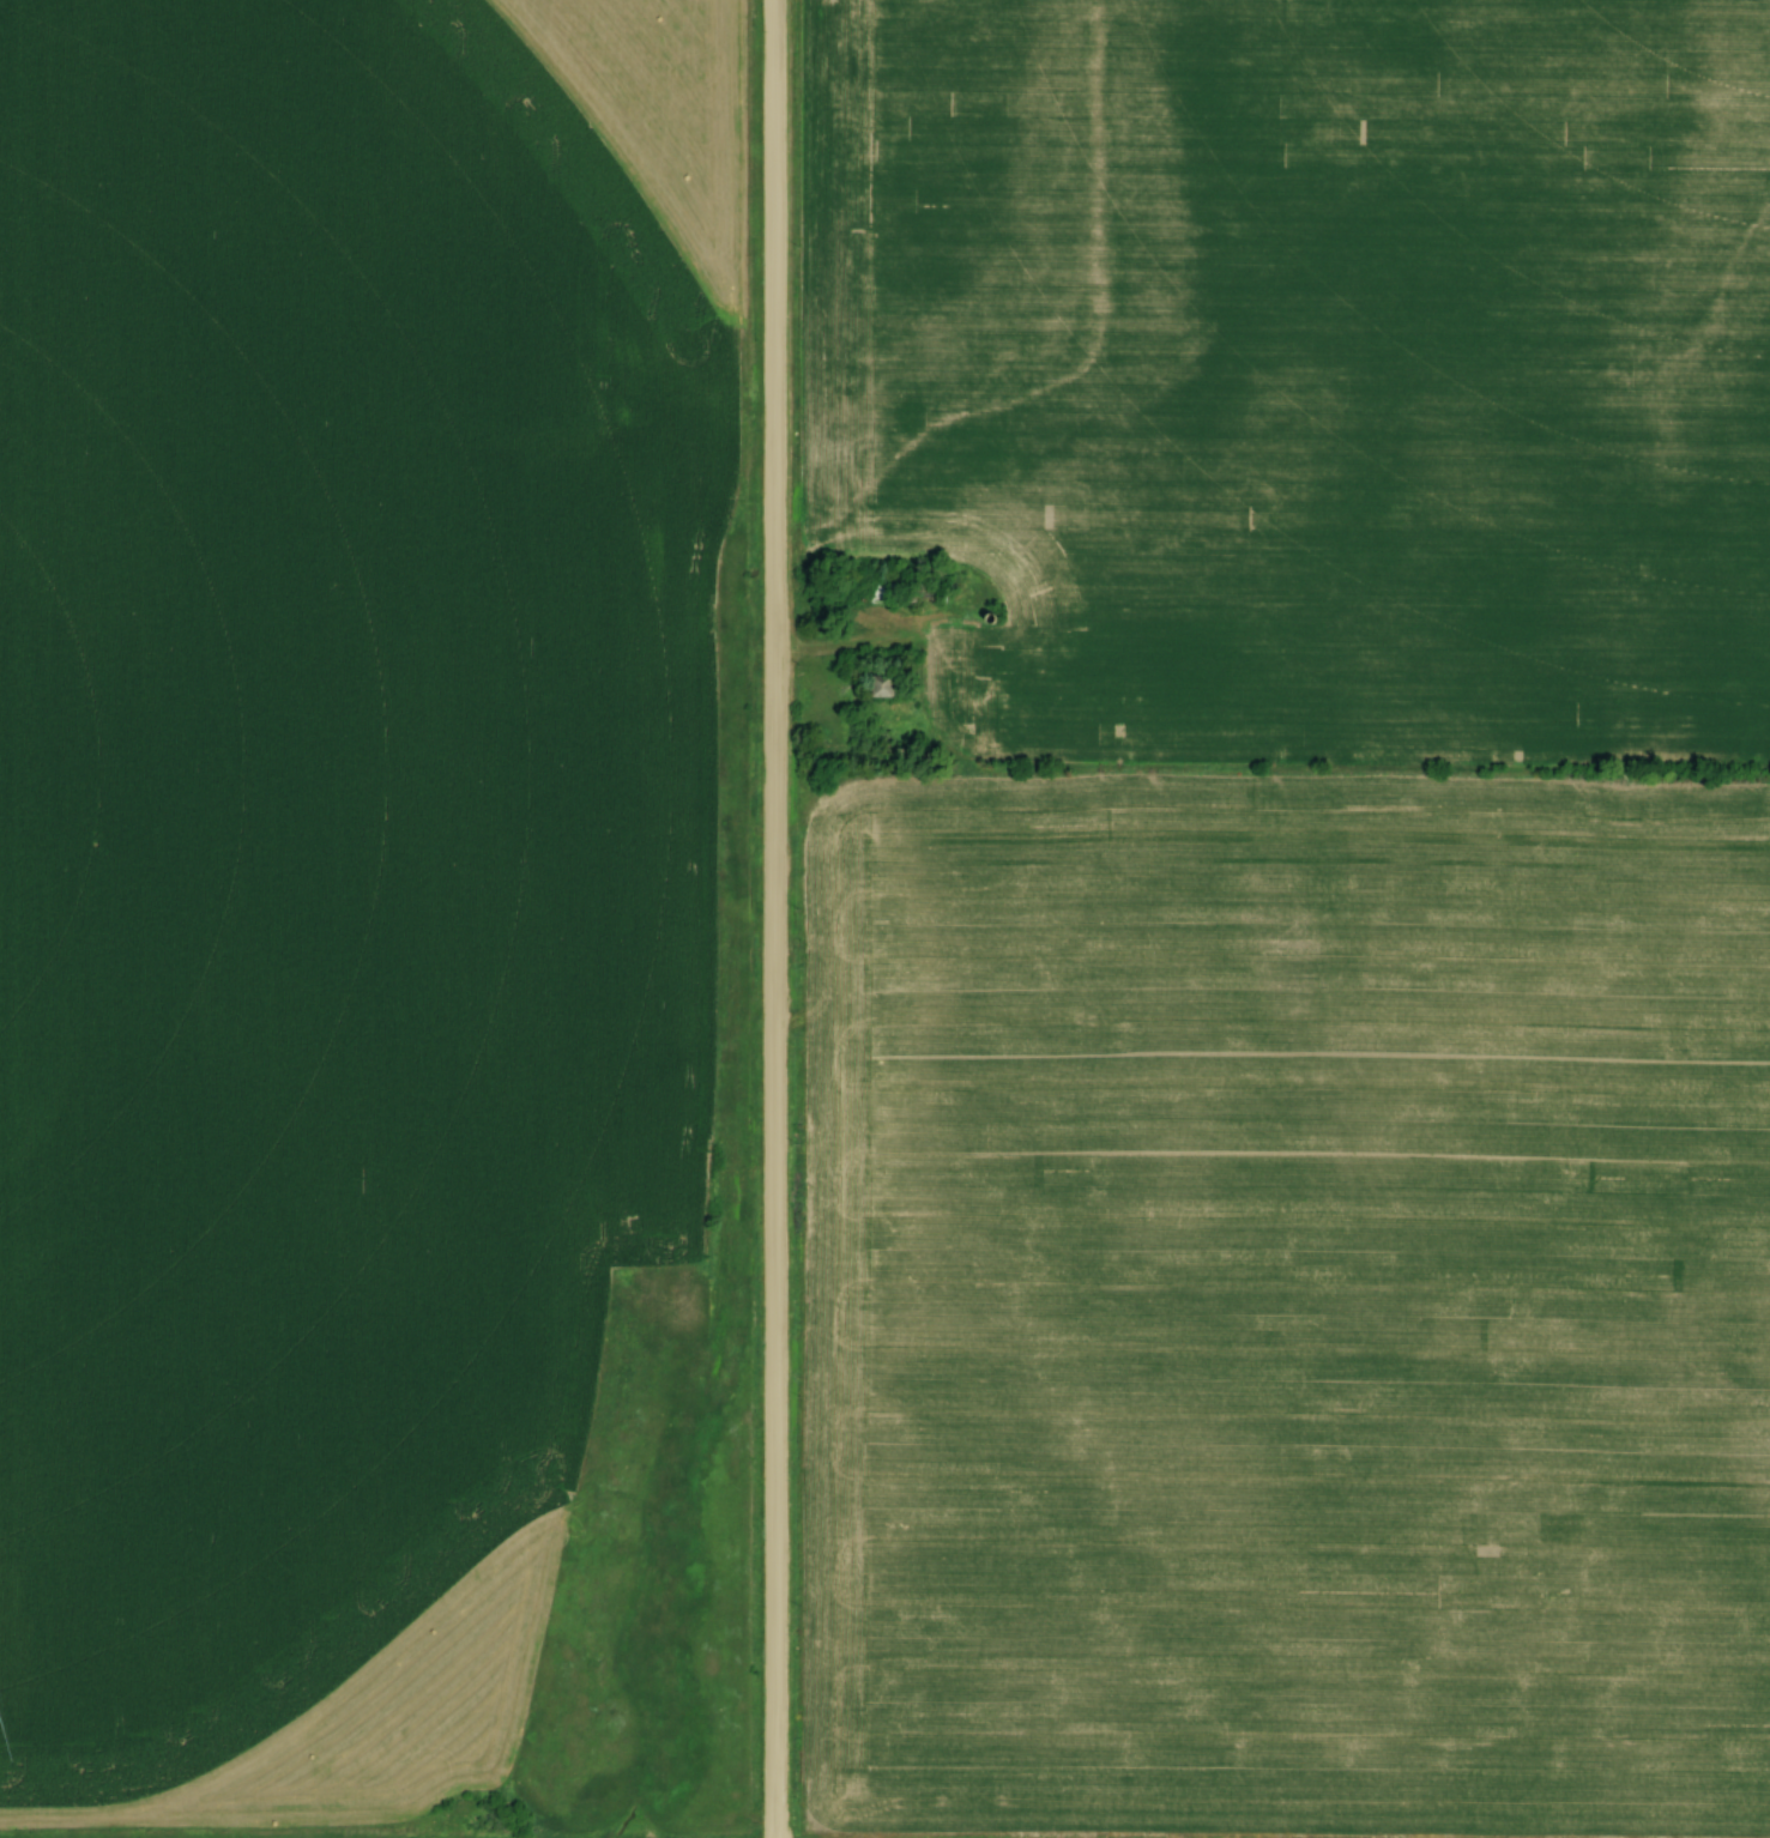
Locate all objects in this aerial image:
building: (882, 592)
road: (774, 918)

